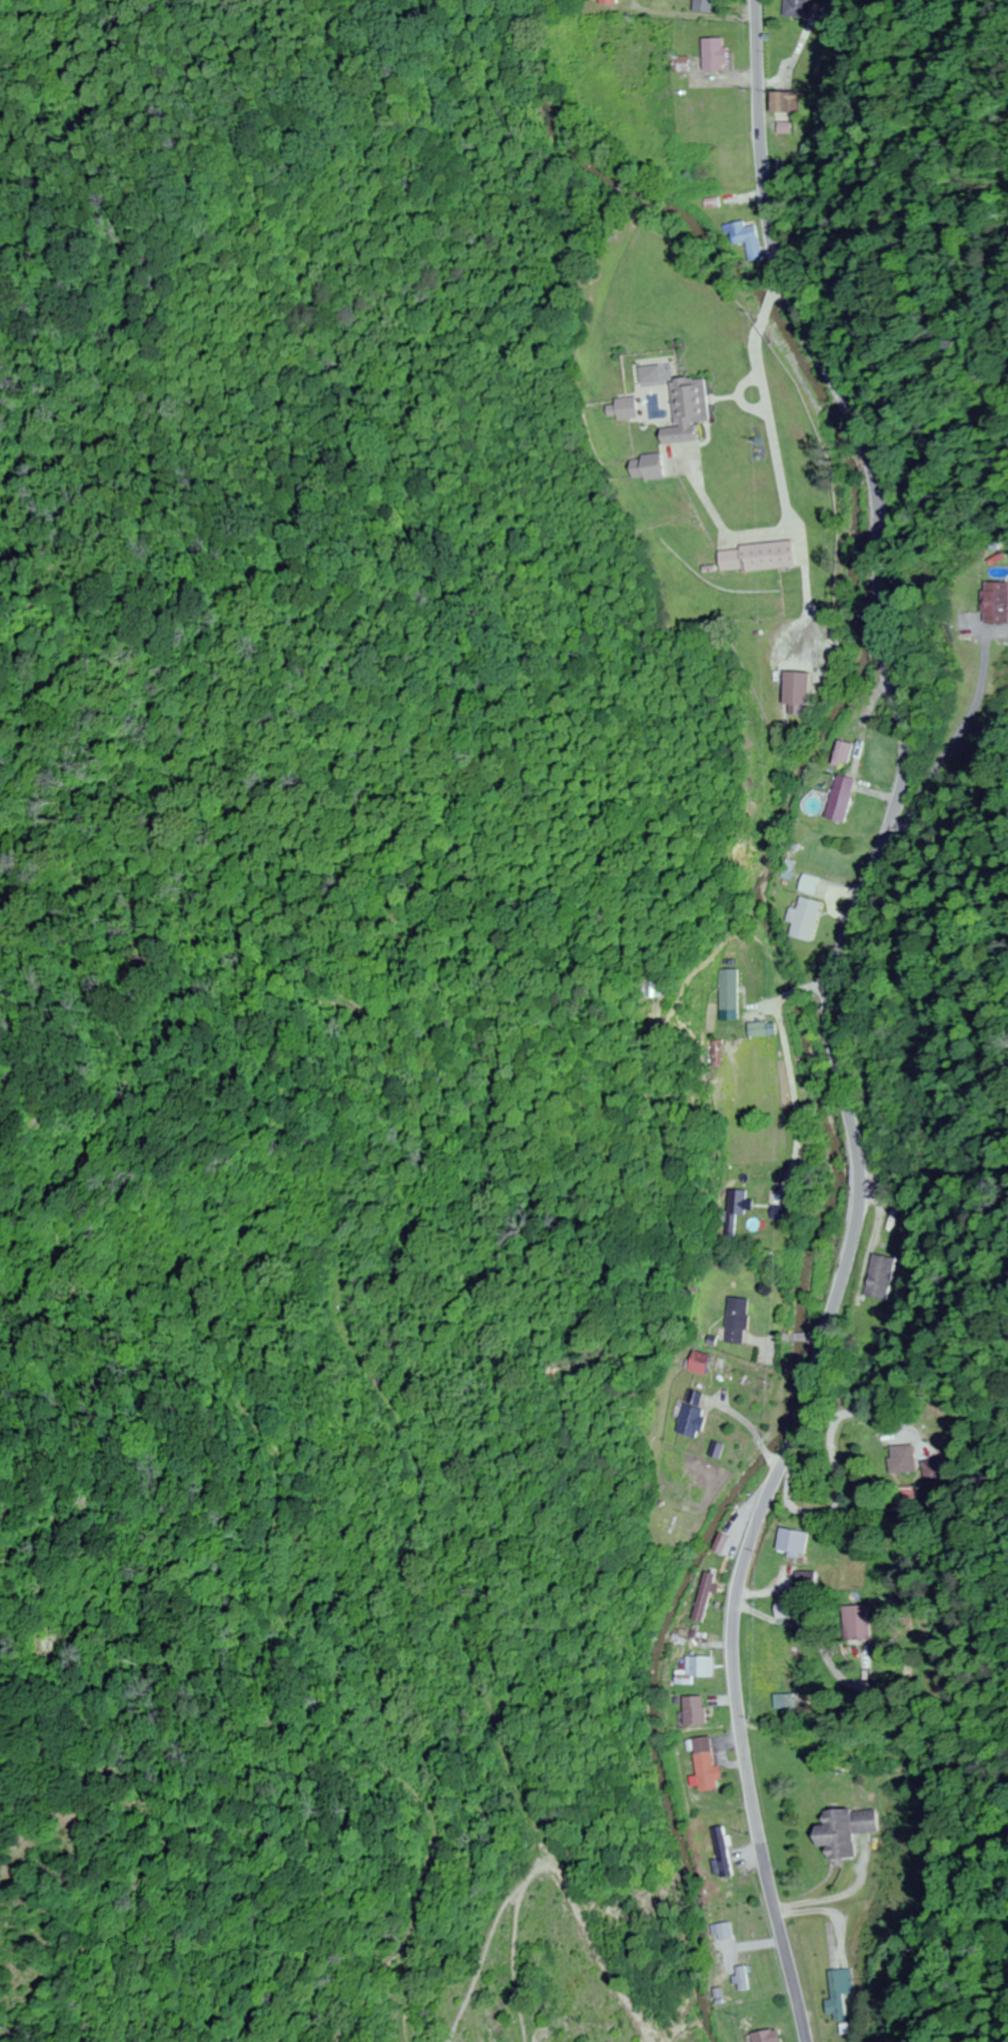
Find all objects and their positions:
building: (707, 5)
building: (799, 8)
building: (720, 54)
building: (787, 101)
building: (731, 198)
building: (751, 242)
building: (616, 408)
building: (682, 409)
building: (640, 468)
building: (751, 558)
building: (998, 603)
building: (797, 689)
building: (841, 755)
building: (839, 799)
building: (809, 918)
building: (729, 989)
road: (830, 1016)
building: (885, 1276)
building: (739, 1320)
building: (691, 1420)
building: (911, 1459)
building: (817, 1480)
building: (664, 1521)
building: (799, 1542)
building: (724, 1543)
building: (707, 1596)
building: (790, 1608)
building: (863, 1622)
building: (700, 1668)
building: (788, 1700)
building: (698, 1710)
building: (709, 1766)
building: (850, 1829)
building: (728, 1930)
building: (747, 1977)
building: (839, 1994)
building: (771, 2036)

